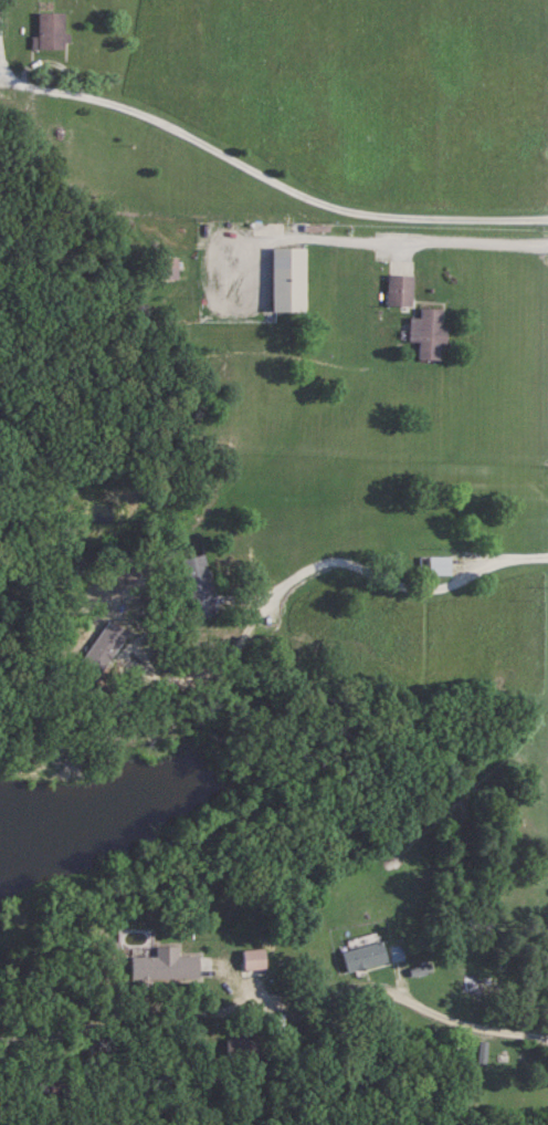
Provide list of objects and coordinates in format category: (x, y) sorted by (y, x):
building: (49, 32)
road: (1, 74)
road: (264, 179)
road: (457, 243)
building: (167, 269)
building: (286, 280)
building: (398, 291)
building: (425, 333)
building: (435, 564)
road: (386, 577)
building: (197, 585)
building: (363, 957)
building: (253, 960)
building: (165, 966)
building: (482, 986)
road: (371, 987)
building: (252, 1052)
building: (481, 1052)
building: (60, 1086)

